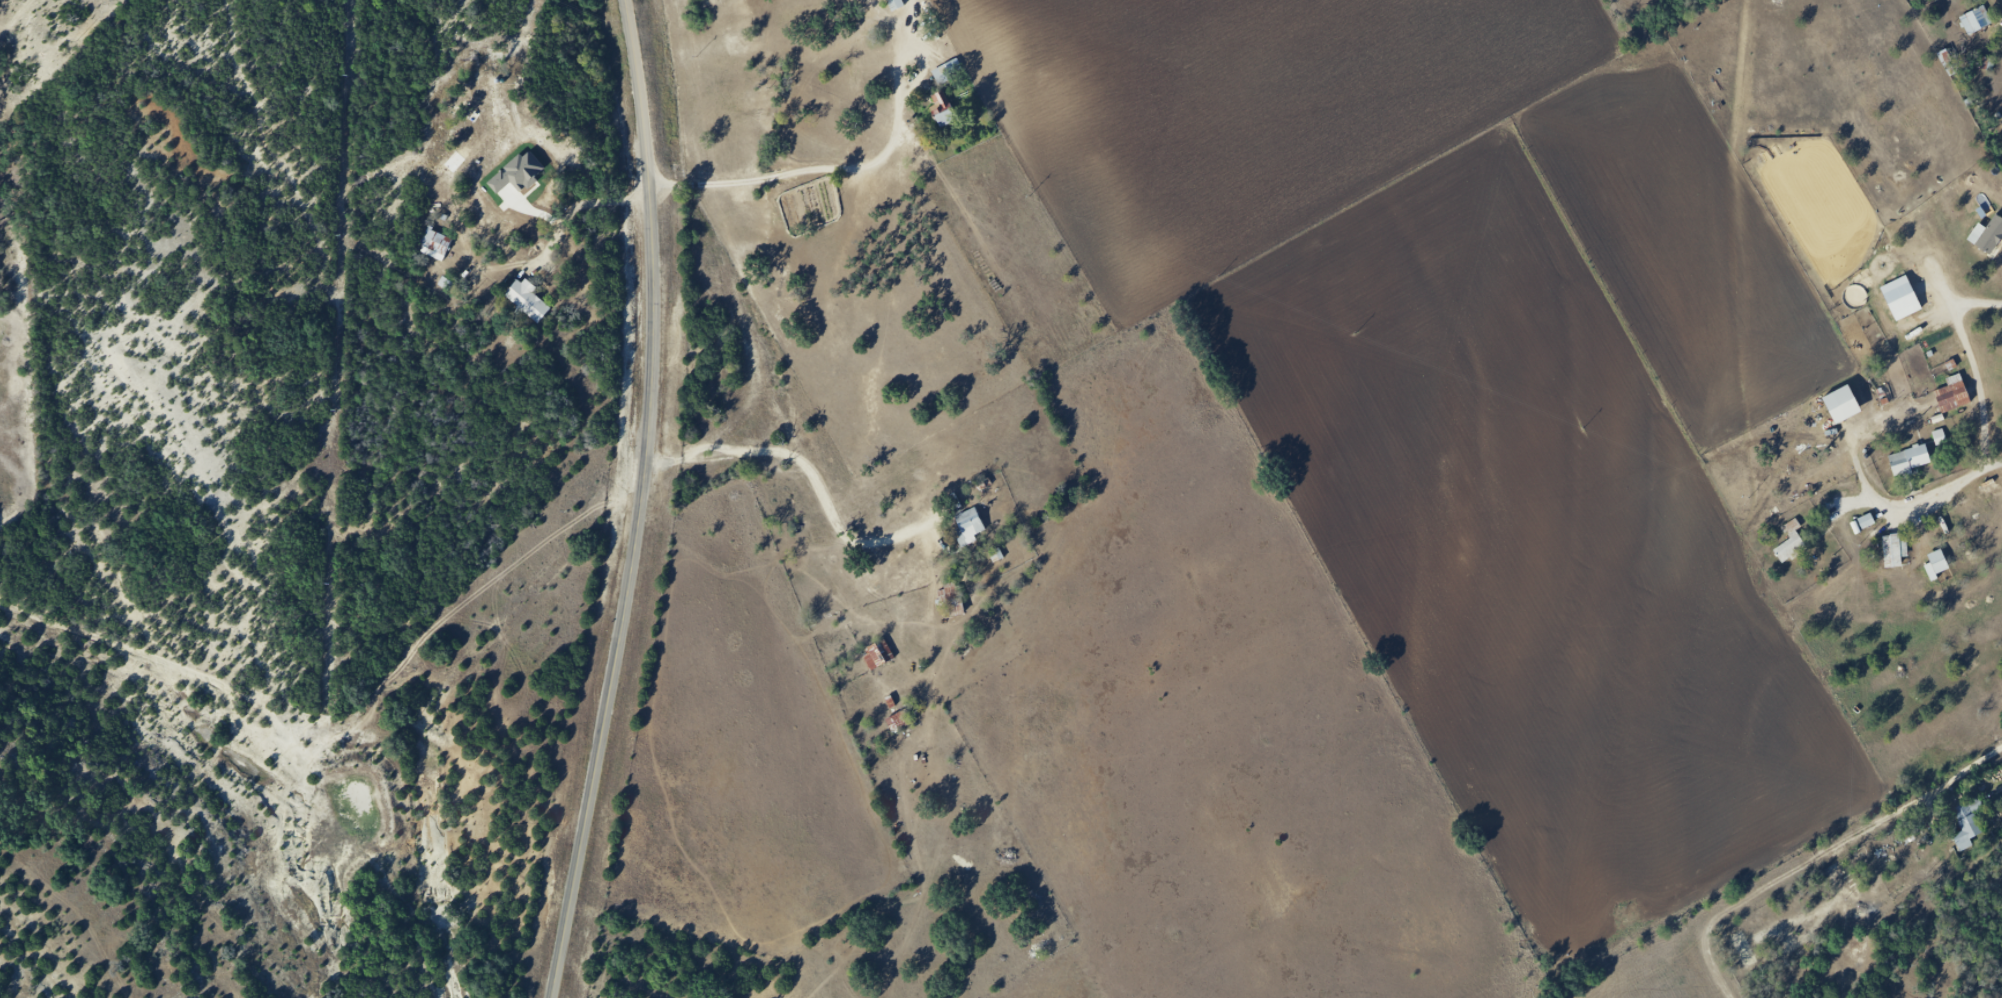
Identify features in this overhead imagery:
building: (1976, 21)
building: (943, 75)
building: (942, 110)
building: (436, 243)
building: (527, 303)
building: (1951, 393)
building: (1841, 405)
building: (1939, 437)
building: (1909, 460)
road: (645, 501)
building: (970, 525)
building: (1790, 543)
building: (1894, 550)
building: (953, 598)
building: (878, 655)
building: (1968, 818)
building: (1743, 950)

